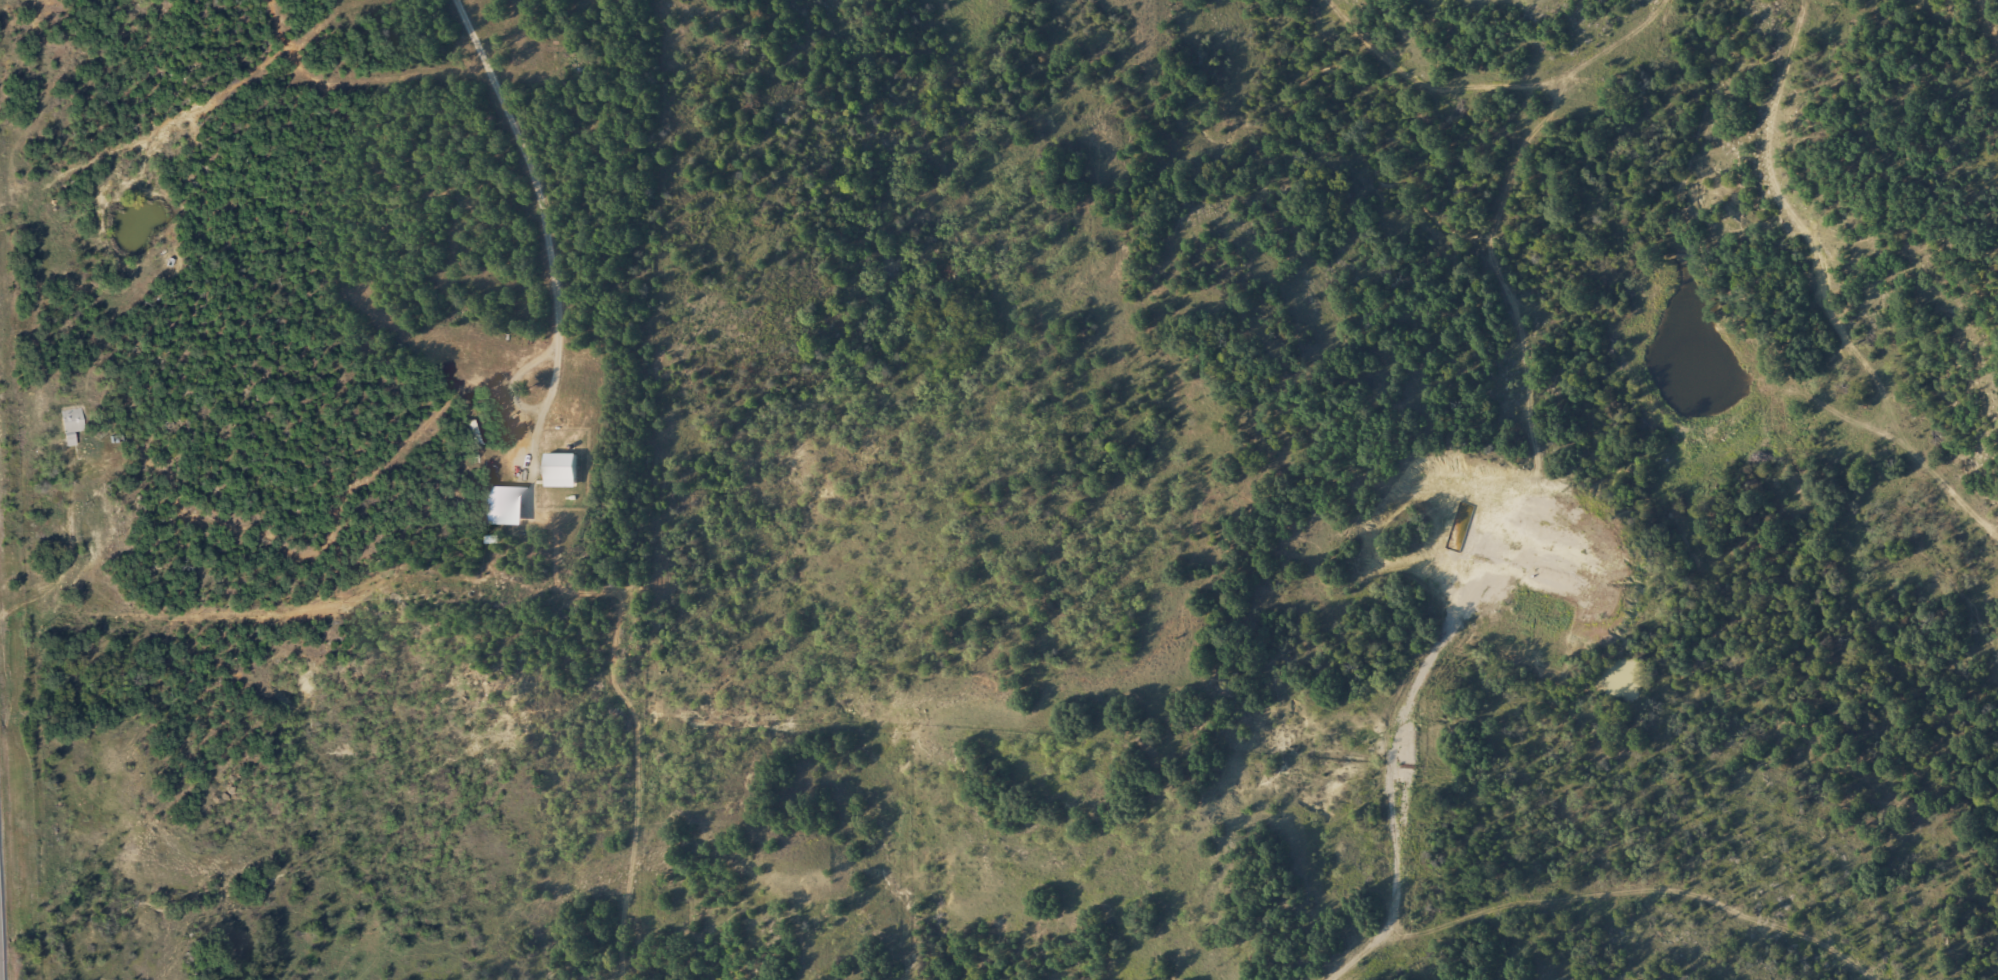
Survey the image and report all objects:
building: (71, 424)
road: (1130, 845)

